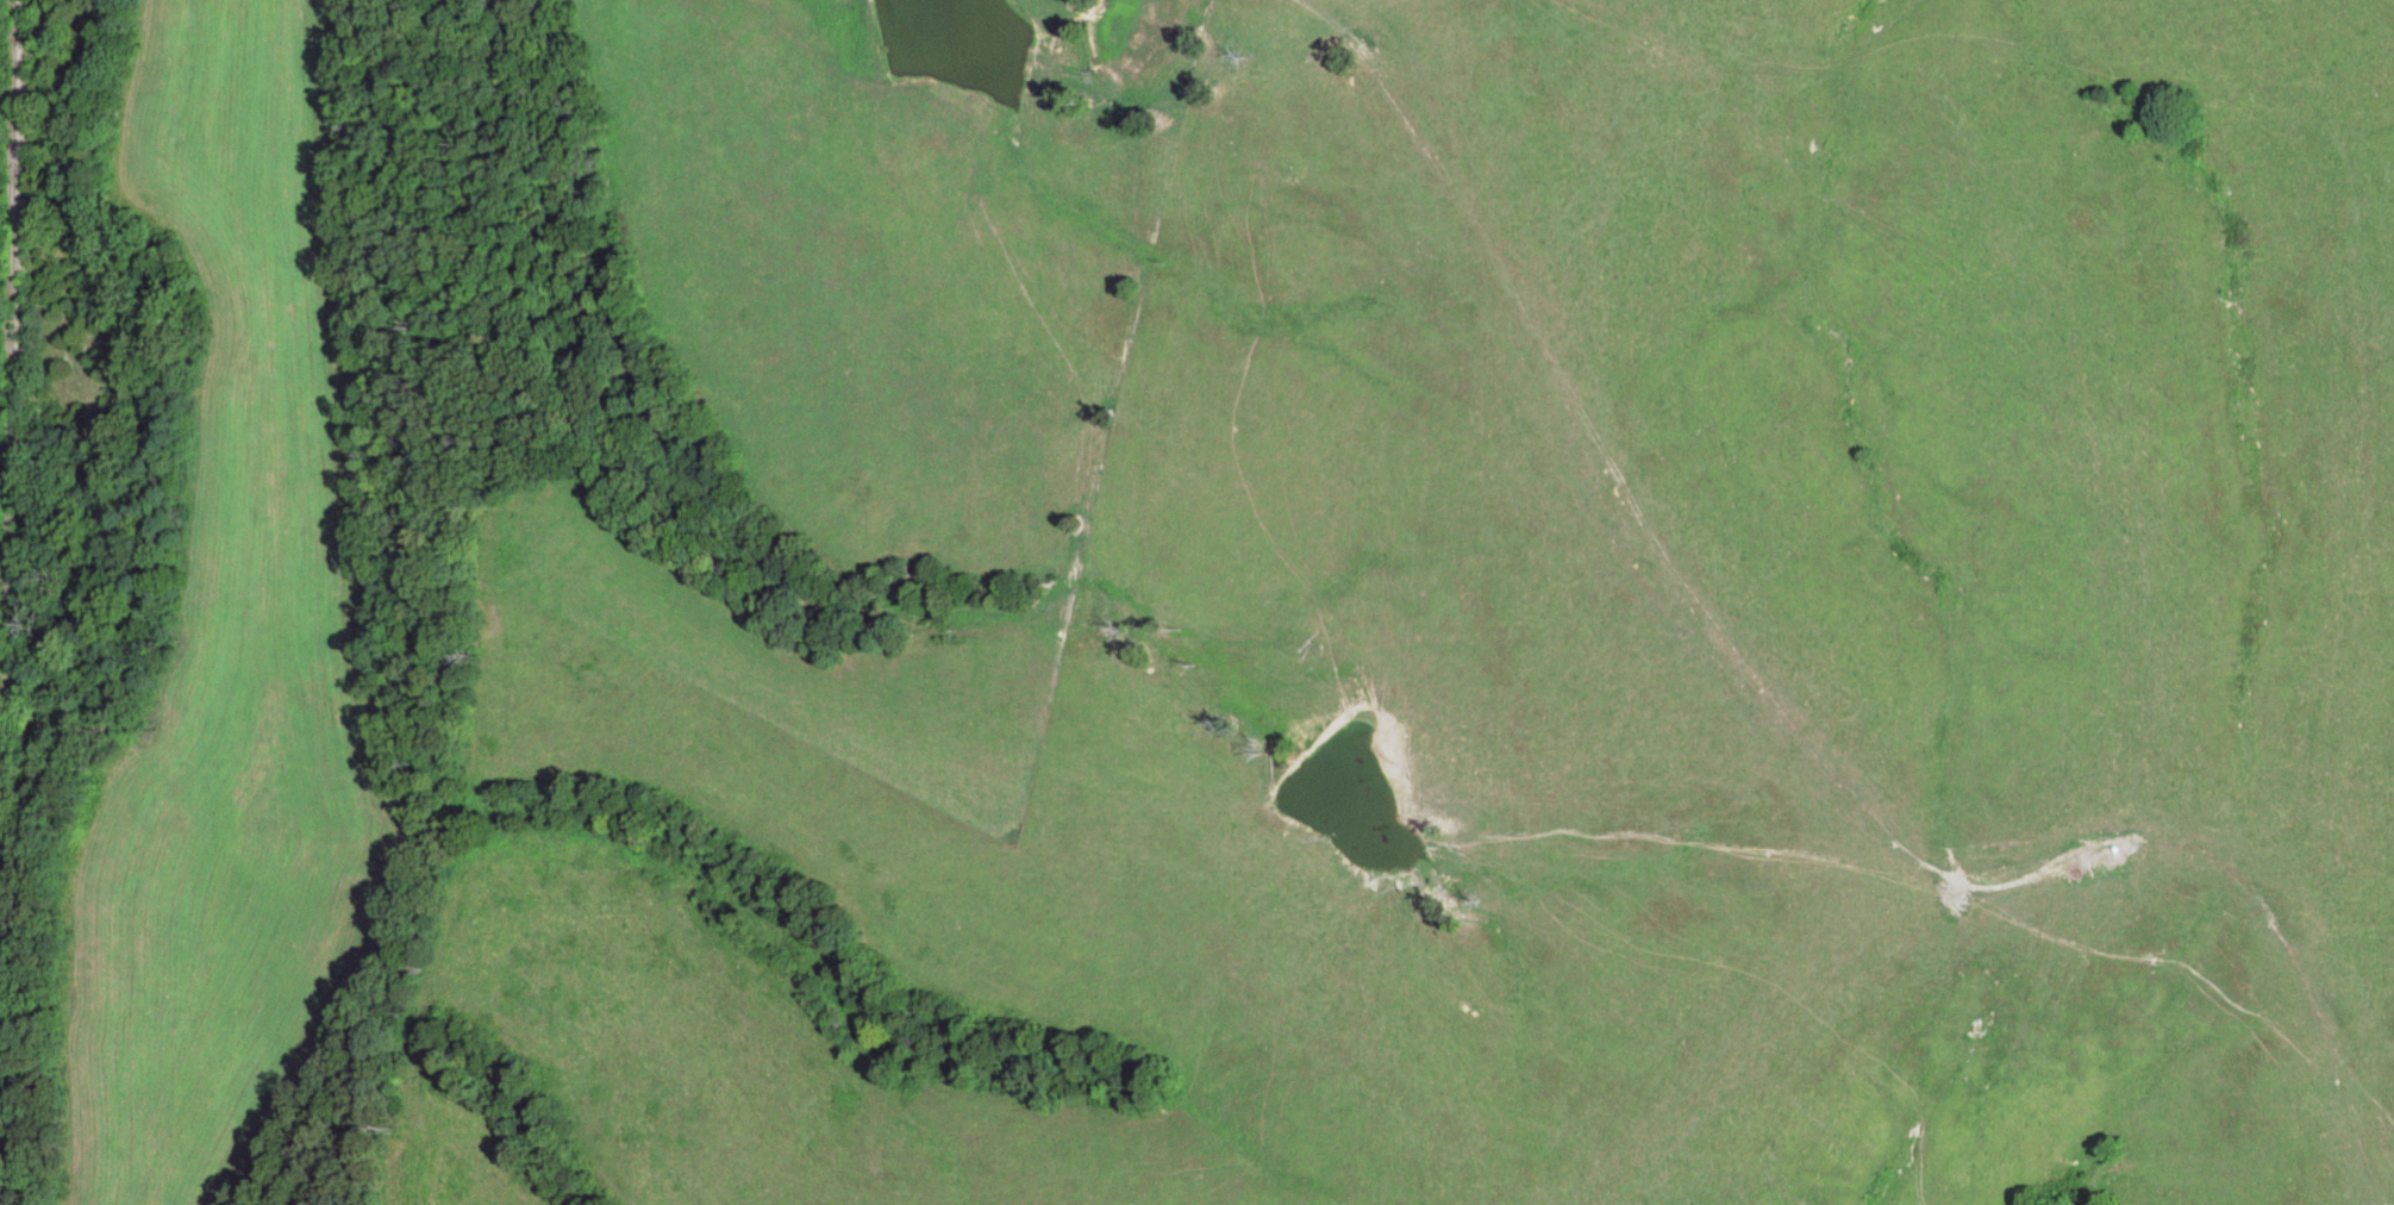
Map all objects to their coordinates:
railway: (11, 361)
road: (105, 461)

